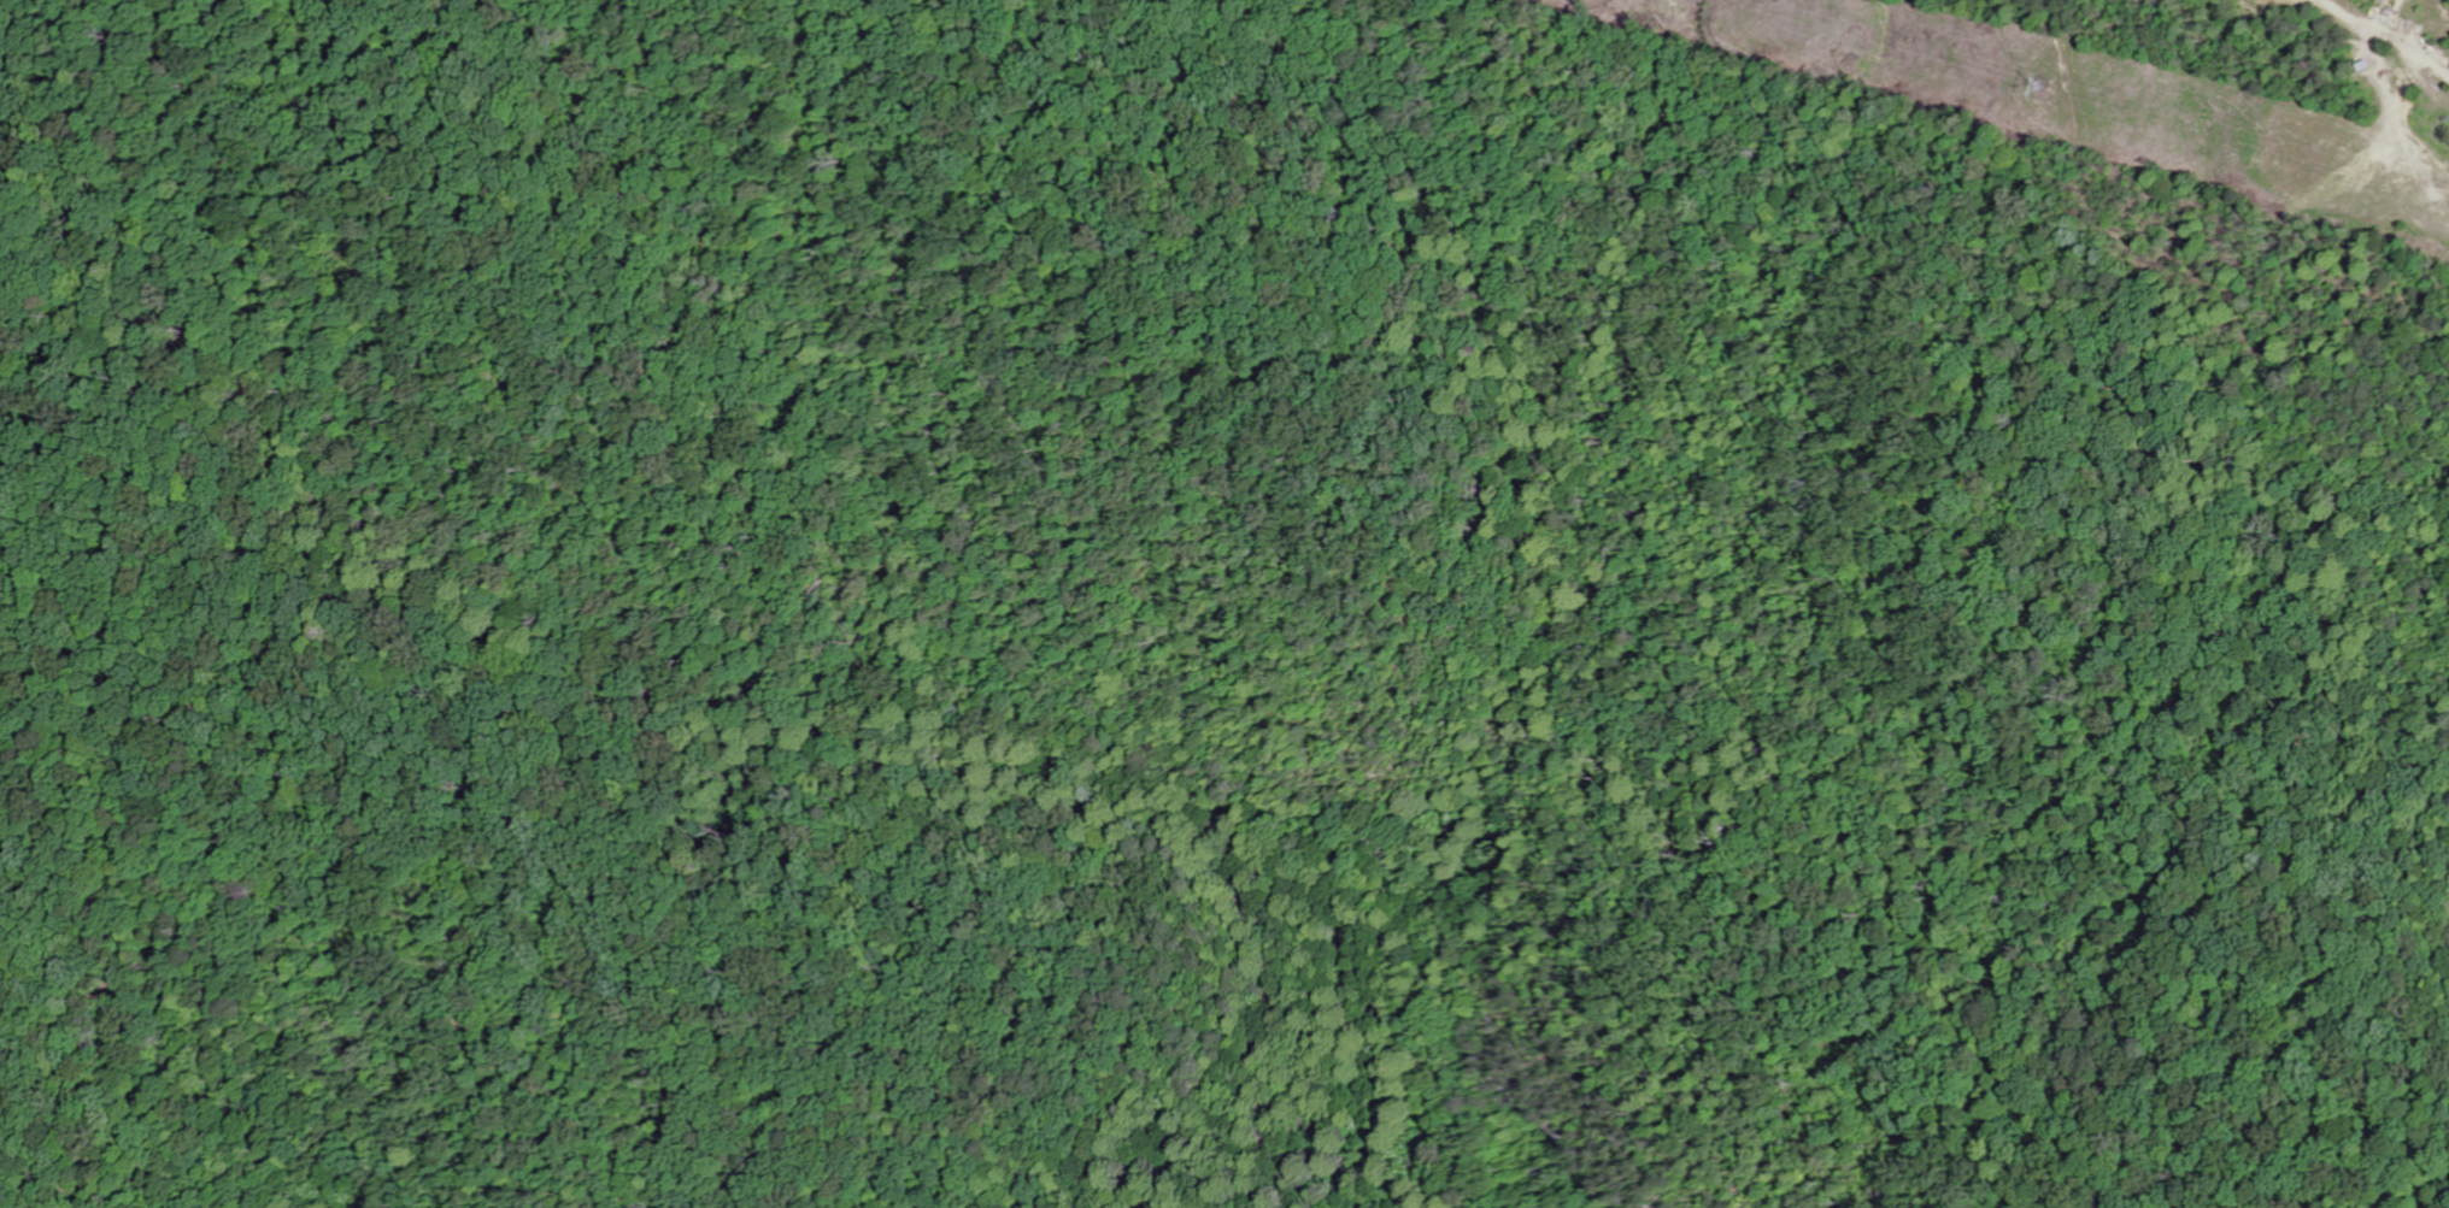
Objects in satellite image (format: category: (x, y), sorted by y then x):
road: (2386, 24)

